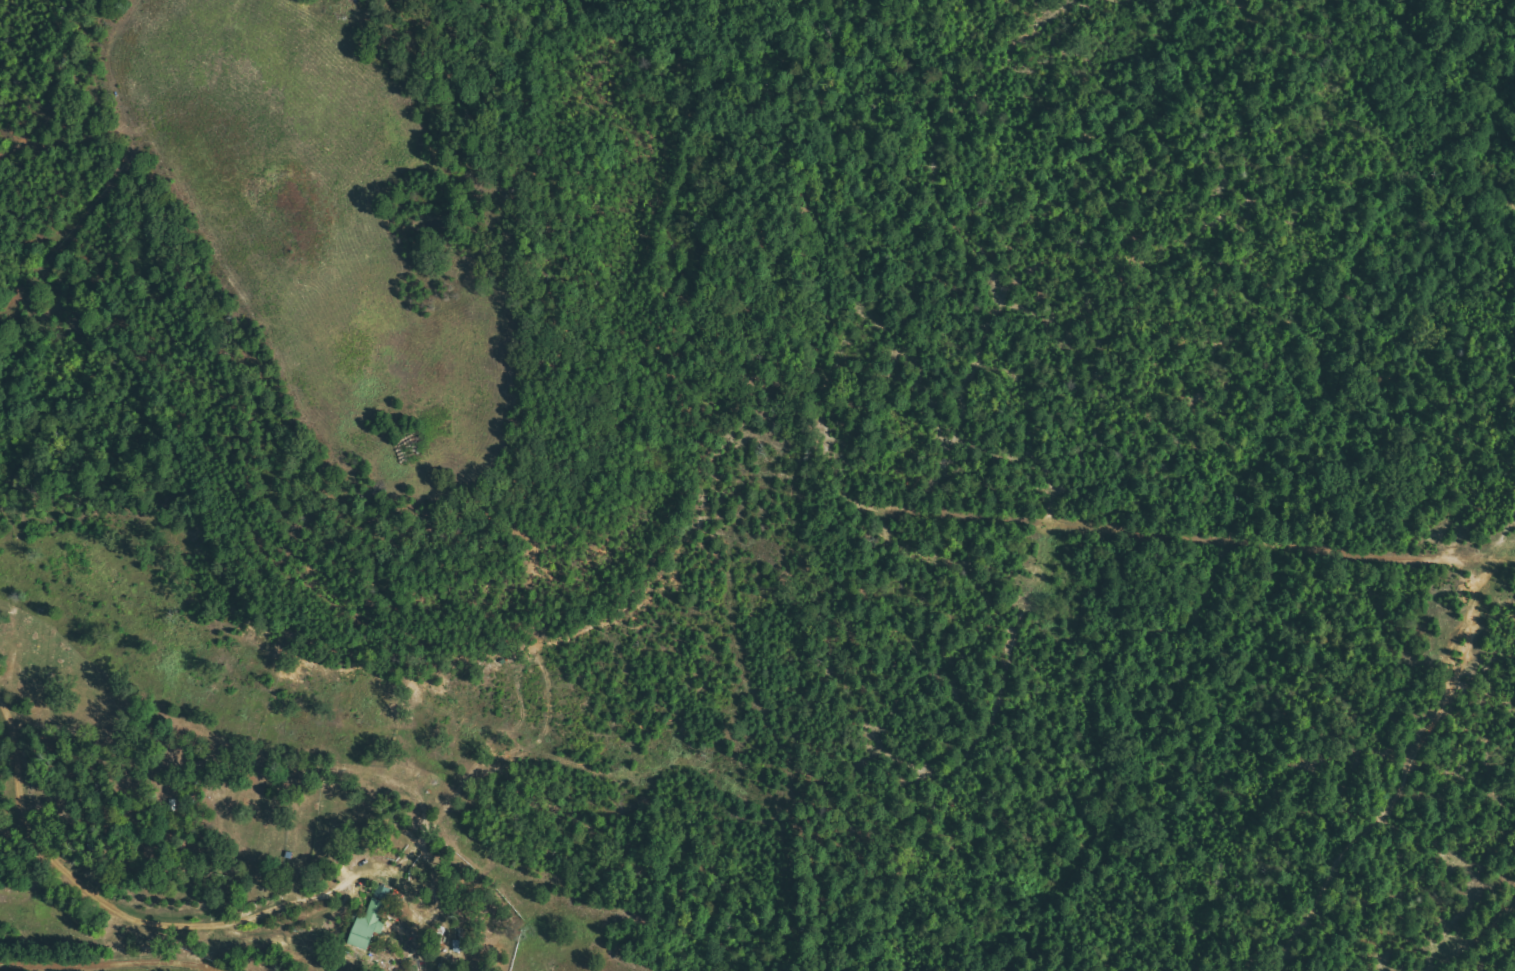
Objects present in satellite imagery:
road: (1425, 550)
building: (371, 919)

